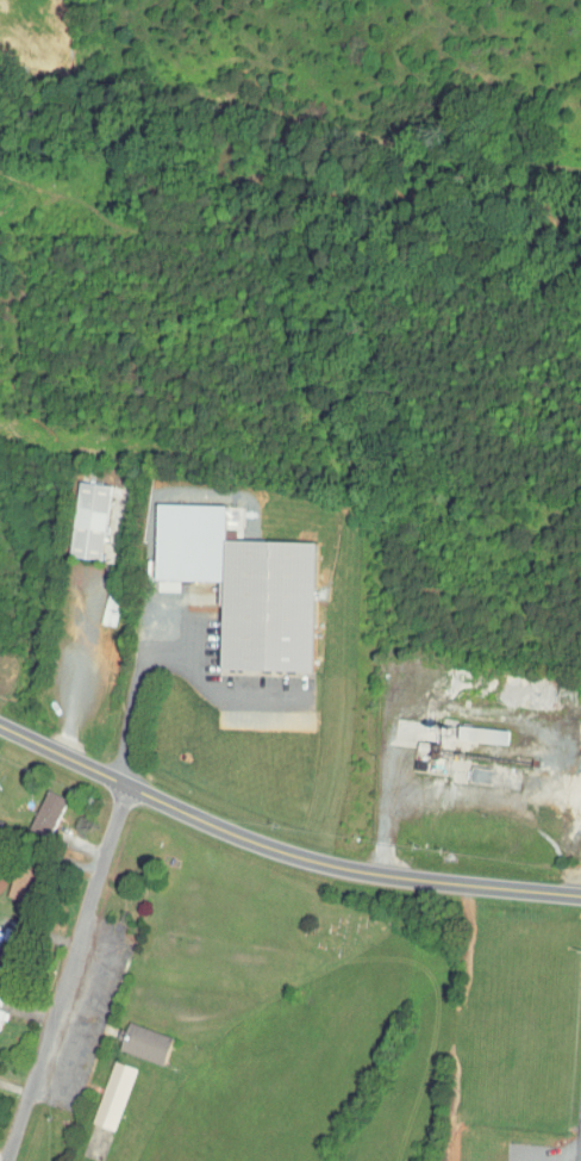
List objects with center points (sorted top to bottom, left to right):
building: (71, 513)
building: (225, 579)
building: (94, 603)
road: (163, 654)
road: (76, 669)
road: (366, 687)
building: (458, 729)
building: (573, 737)
building: (30, 807)
road: (277, 853)
road: (71, 979)
building: (129, 1035)
building: (98, 1088)

